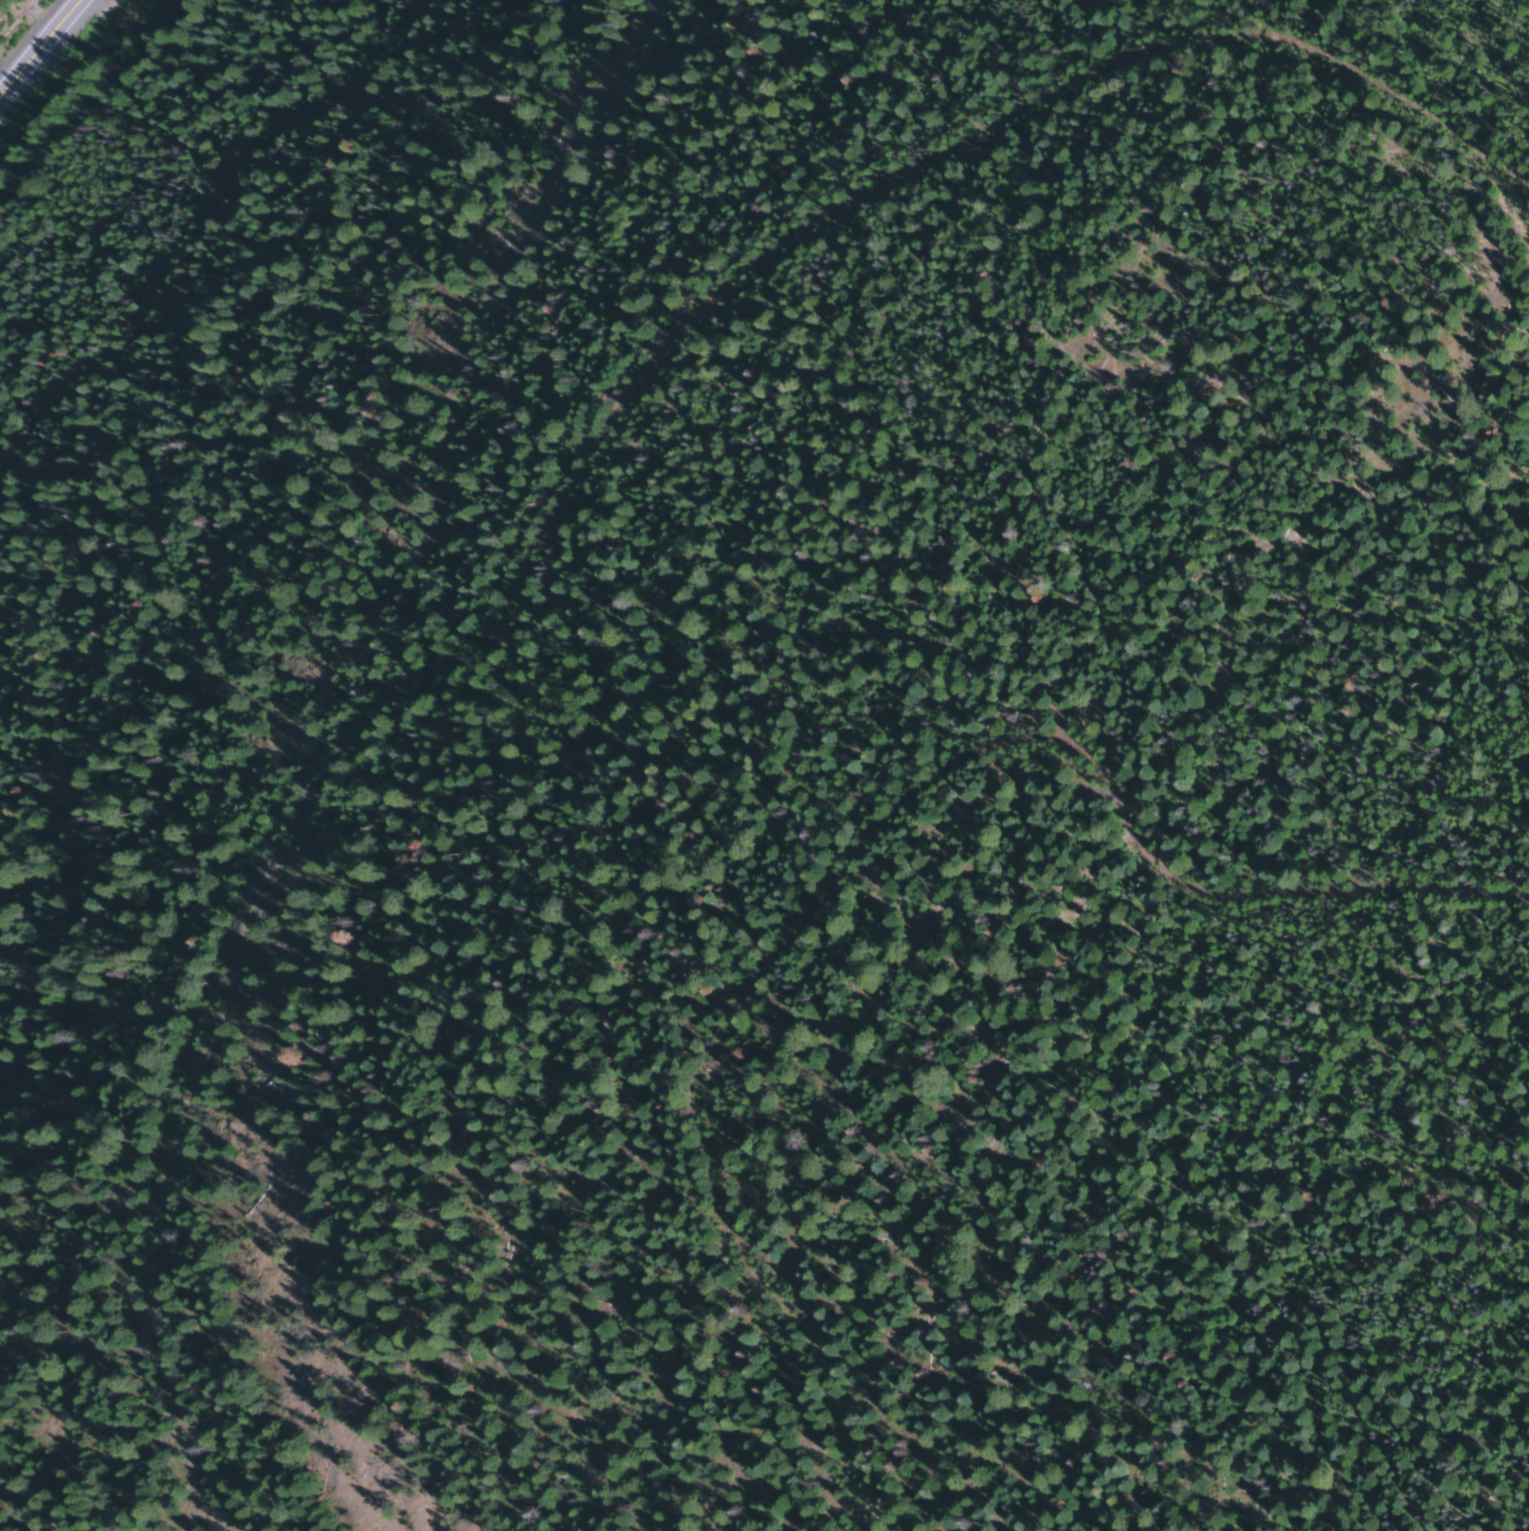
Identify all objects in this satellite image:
road: (42, 51)
road: (157, 279)
road: (617, 418)
road: (838, 833)

